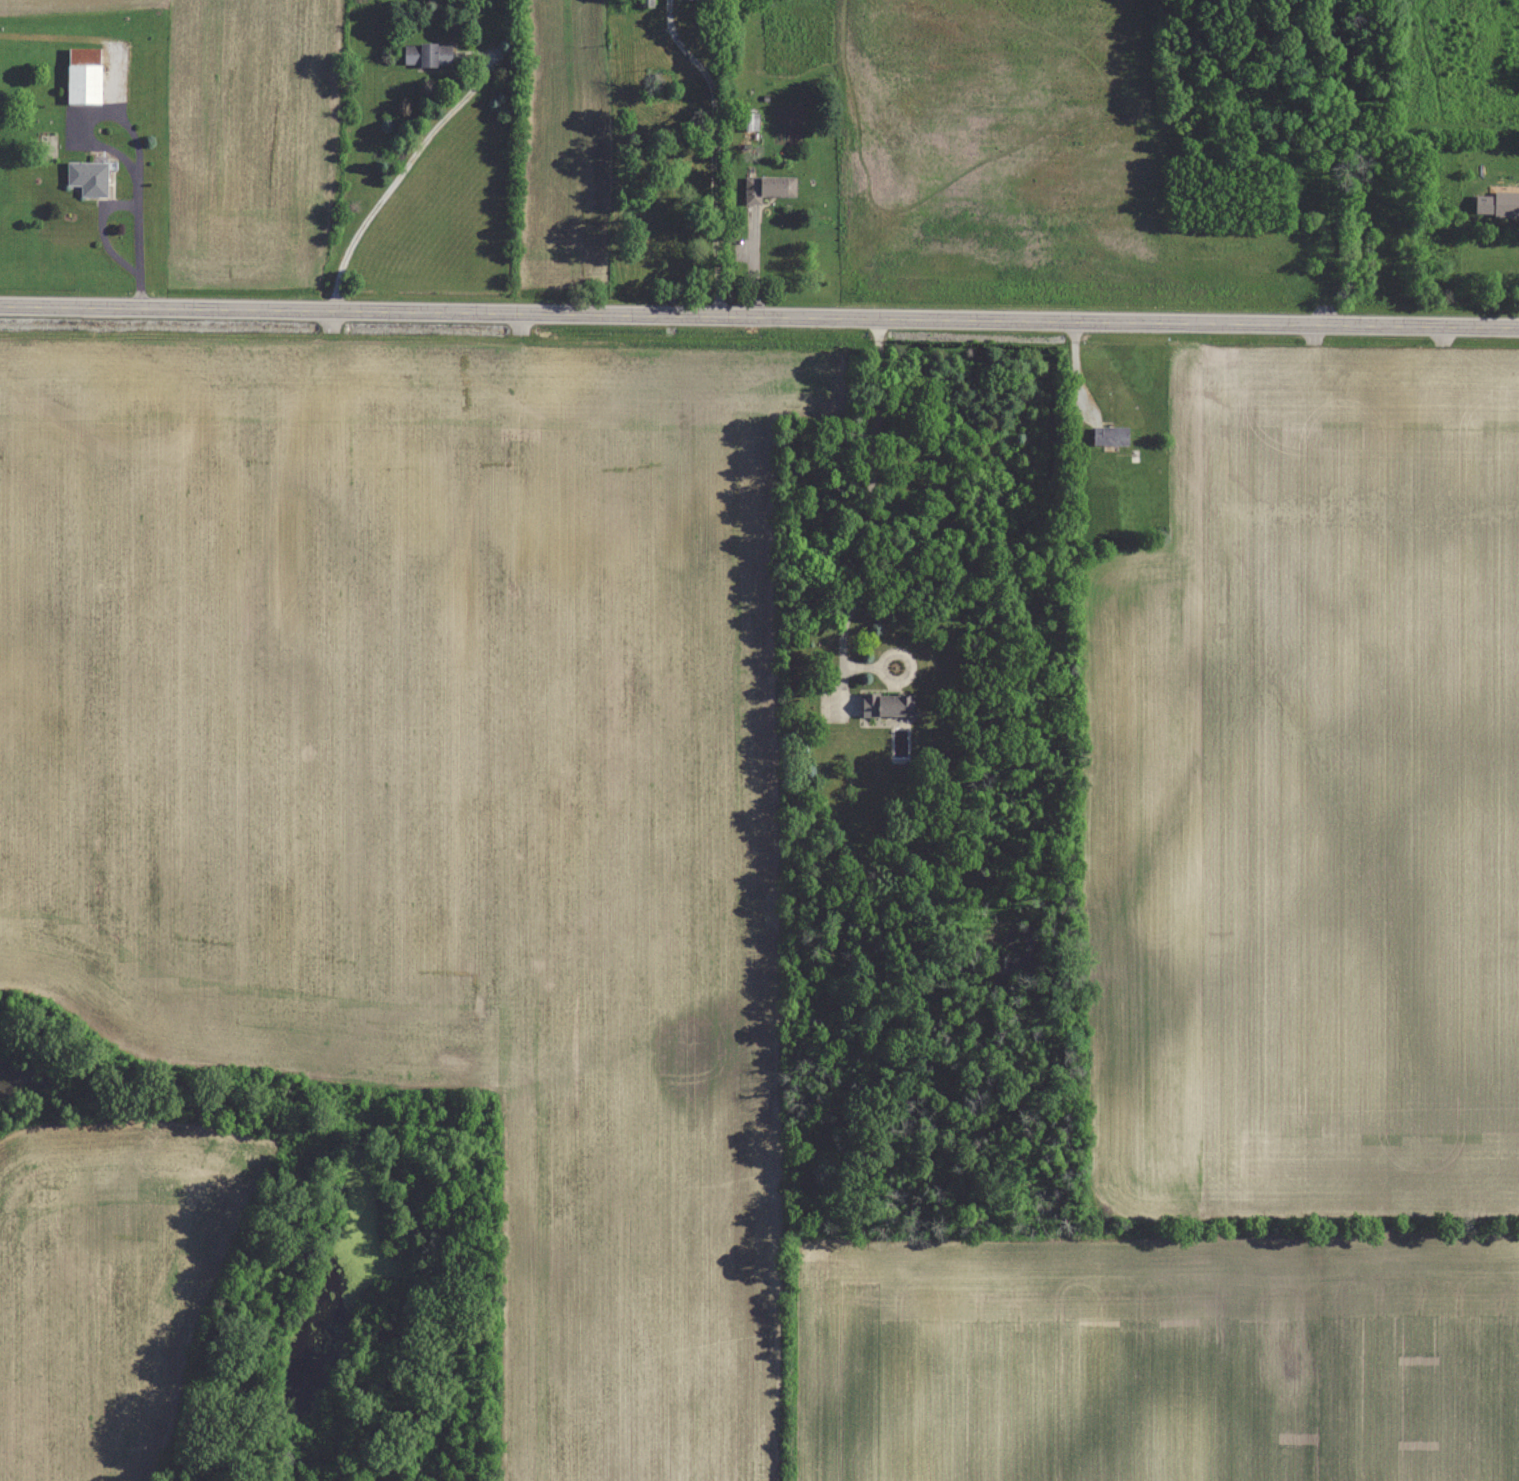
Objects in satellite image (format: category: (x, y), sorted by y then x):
building: (648, 3)
building: (428, 54)
building: (84, 75)
building: (751, 121)
road: (717, 147)
building: (88, 177)
road: (398, 178)
building: (768, 187)
building: (1506, 203)
road: (759, 316)
building: (1110, 434)
road: (866, 515)
road: (894, 652)
road: (863, 665)
building: (888, 704)

